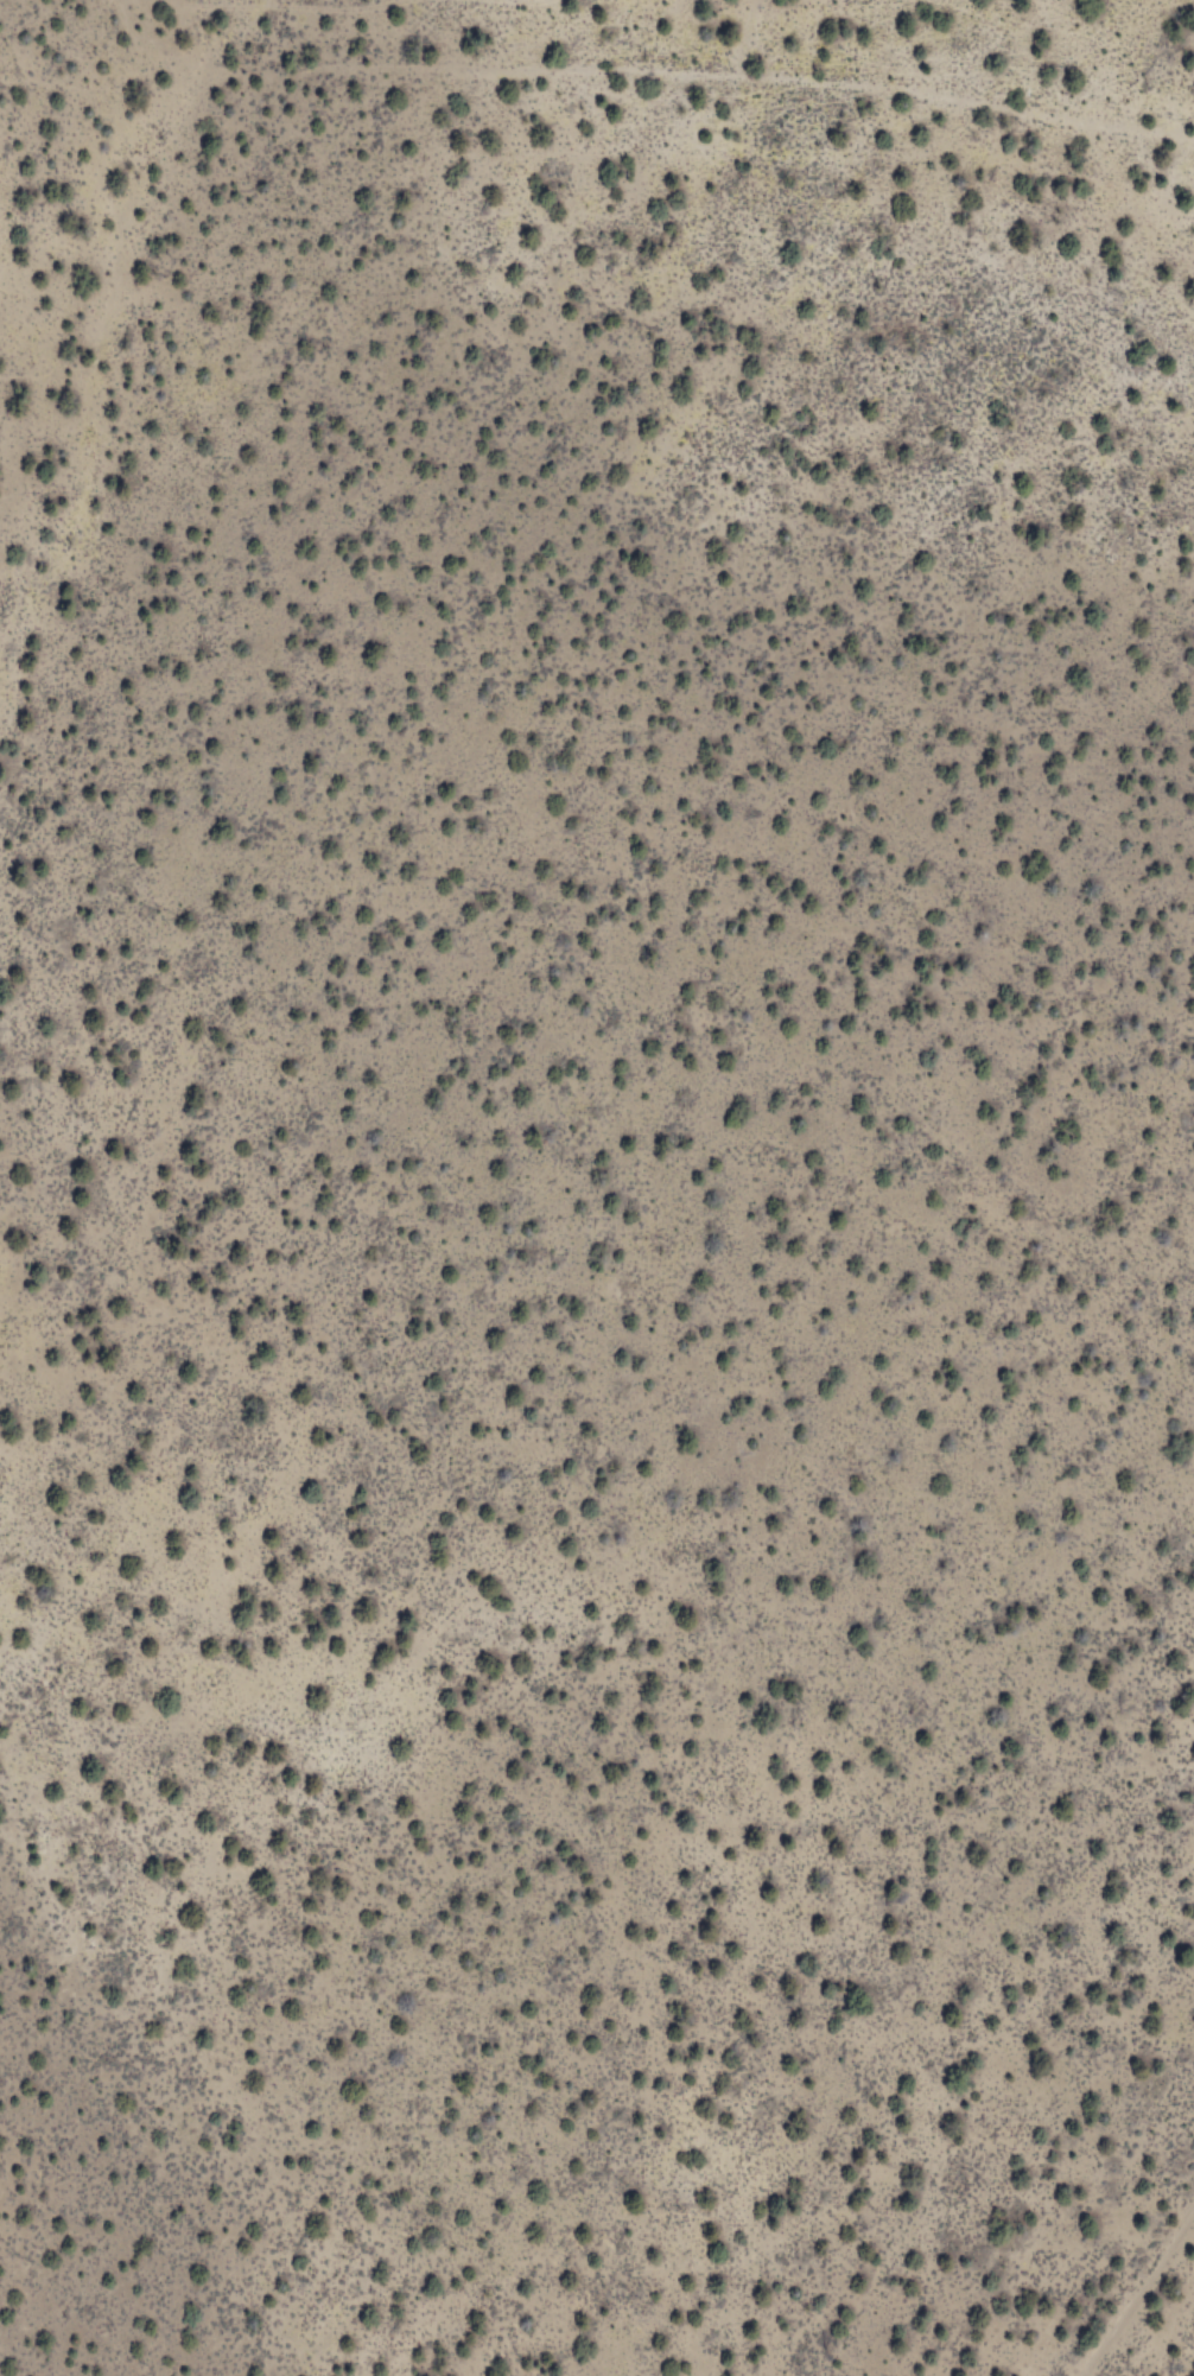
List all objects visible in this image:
road: (1161, 2342)

